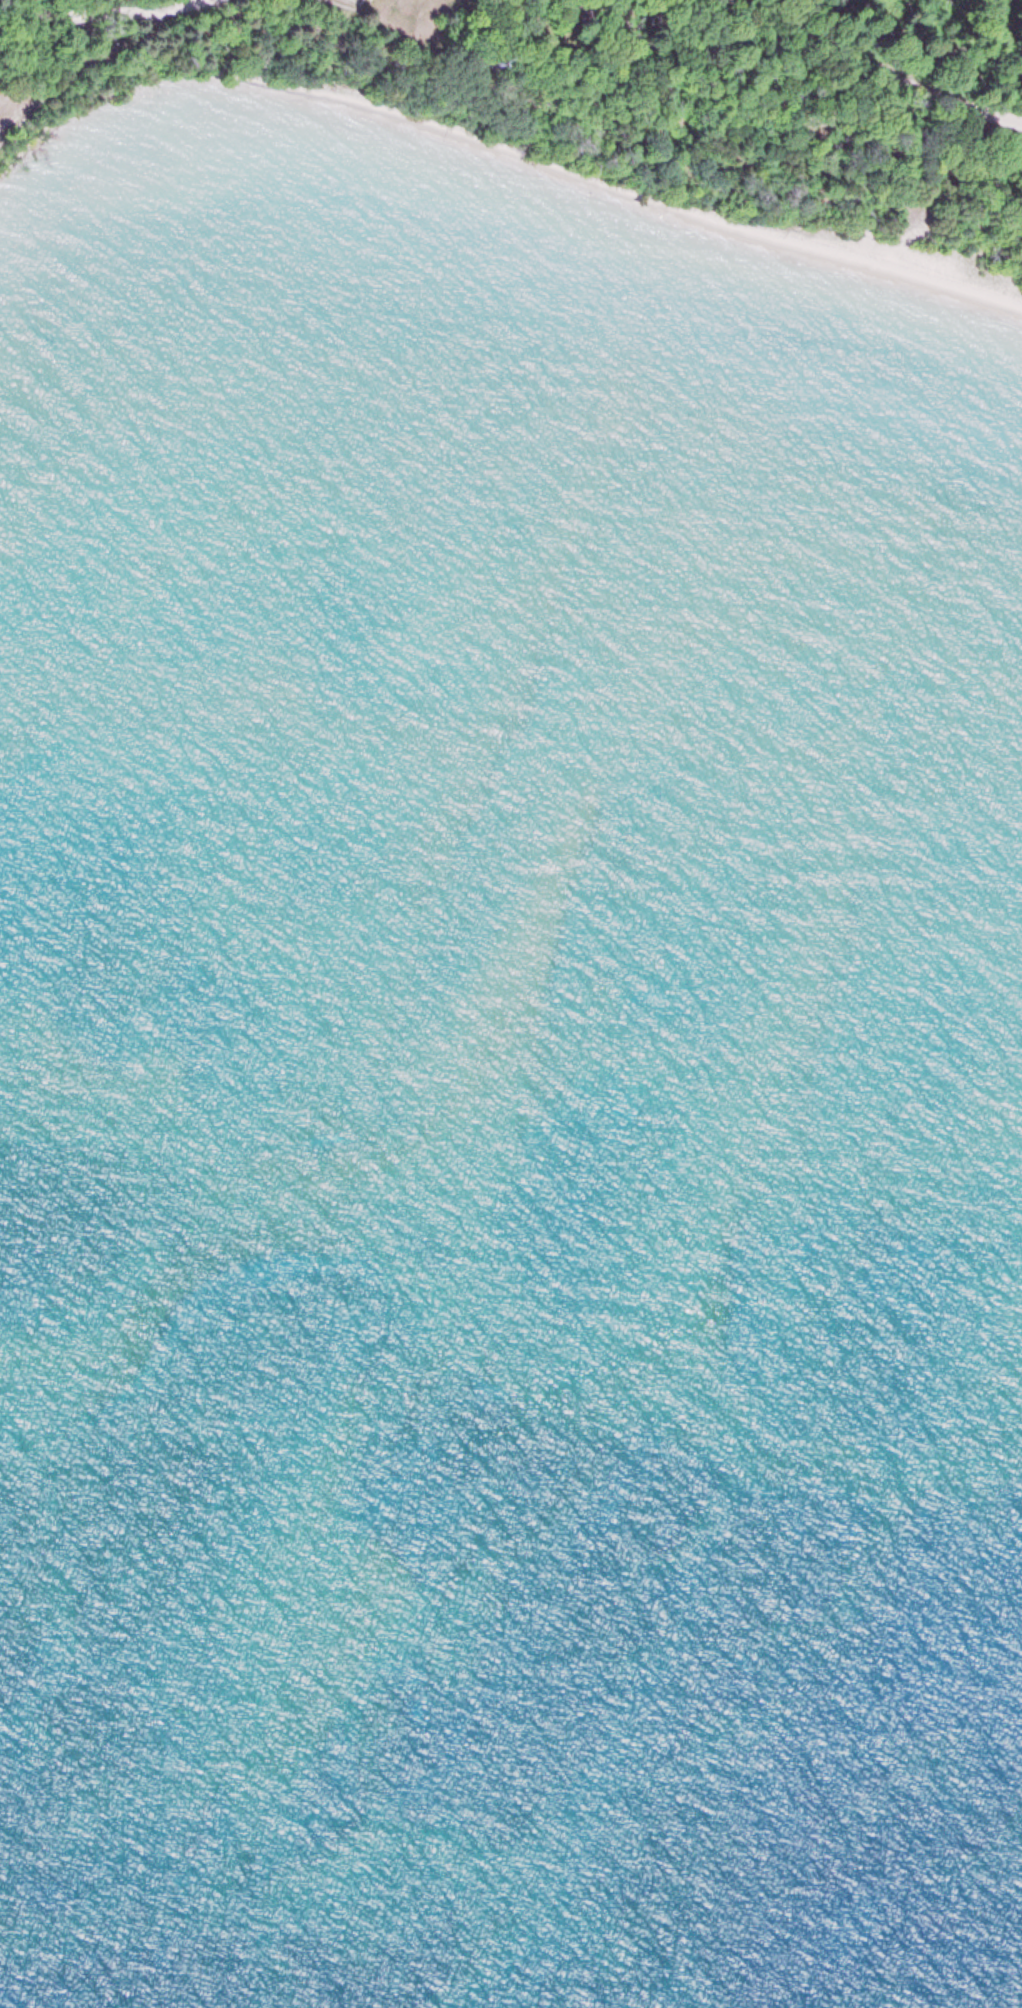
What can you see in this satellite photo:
road: (98, 12)
building: (586, 12)
building: (599, 34)
road: (869, 69)

